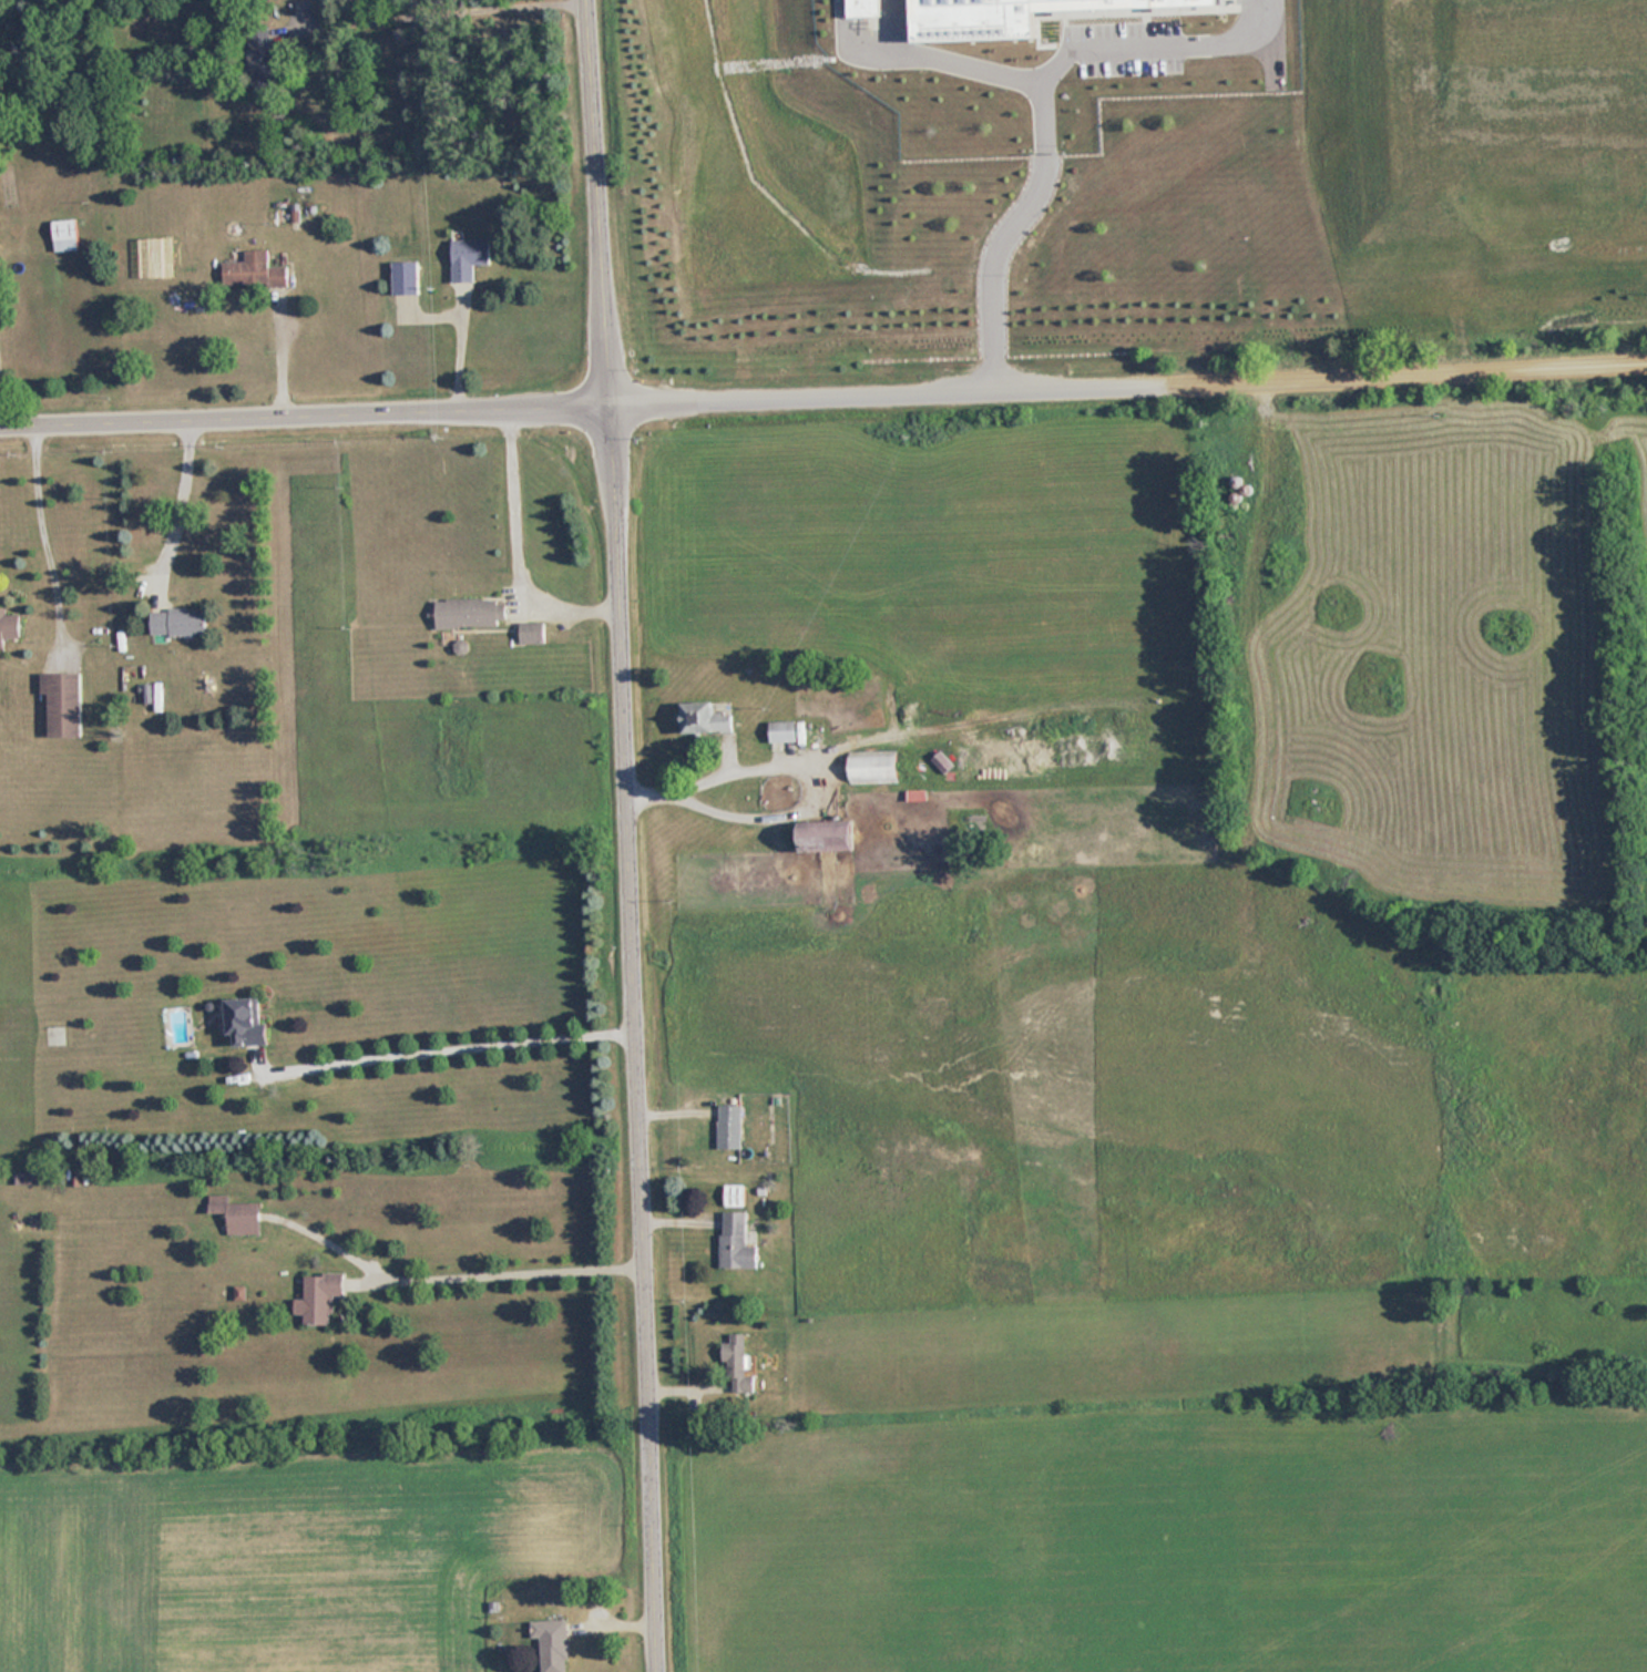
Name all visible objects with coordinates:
road: (448, 12)
building: (263, 65)
wastewater plant: (1124, 168)
road: (599, 198)
building: (1255, 205)
building: (734, 224)
building: (64, 236)
building: (468, 257)
building: (1197, 266)
building: (253, 270)
building: (1011, 295)
building: (1342, 296)
building: (1428, 299)
building: (1155, 314)
building: (766, 321)
road: (1128, 375)
road: (305, 410)
road: (174, 504)
road: (39, 537)
building: (469, 614)
building: (176, 622)
building: (8, 627)
building: (531, 634)
building: (62, 704)
building: (704, 720)
building: (784, 732)
building: (829, 839)
building: (246, 1023)
road: (637, 1034)
road: (451, 1036)
building: (729, 1126)
building: (25, 1177)
building: (734, 1194)
building: (236, 1214)
building: (736, 1241)
road: (458, 1263)
building: (320, 1296)
building: (735, 1362)
building: (553, 1644)

